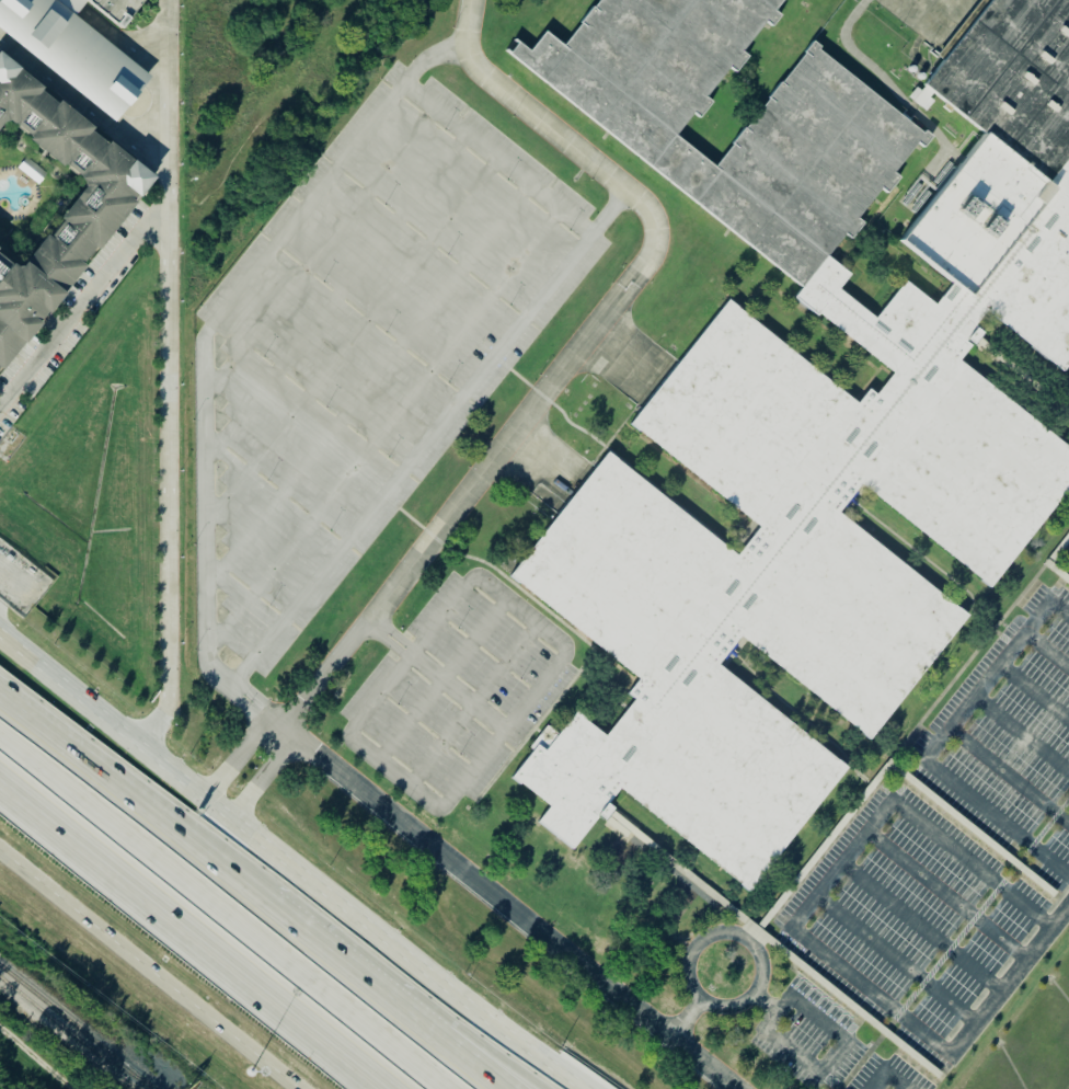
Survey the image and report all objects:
building: (71, 4)
building: (111, 10)
parking lot: (116, 10)
road: (852, 48)
building: (73, 53)
road: (169, 56)
road: (166, 174)
building: (78, 218)
road: (84, 298)
road: (633, 336)
parking lot: (361, 342)
road: (620, 356)
road: (567, 360)
road: (606, 374)
building: (804, 416)
road: (434, 439)
road: (544, 442)
road: (534, 463)
road: (169, 466)
road: (520, 481)
building: (21, 581)
road: (520, 612)
road: (1057, 612)
road: (373, 622)
road: (207, 635)
road: (400, 637)
road: (393, 646)
road: (1045, 653)
road: (442, 679)
road: (982, 681)
road: (457, 692)
road: (69, 693)
road: (1032, 695)
road: (473, 707)
road: (1020, 736)
road: (233, 760)
road: (395, 772)
road: (1008, 775)
road: (260, 779)
road: (34, 804)
road: (995, 818)
road: (839, 866)
road: (970, 866)
parking lot: (944, 889)
road: (947, 897)
road: (234, 899)
road: (361, 920)
road: (921, 929)
road: (212, 961)
road: (232, 961)
road: (895, 961)
road: (149, 971)
road: (1011, 983)
road: (869, 993)
road: (696, 1000)
road: (683, 1020)
railway: (74, 1027)
road: (461, 1030)
railway: (71, 1036)
road: (36, 1058)
railway: (31, 1064)
road: (823, 1069)

